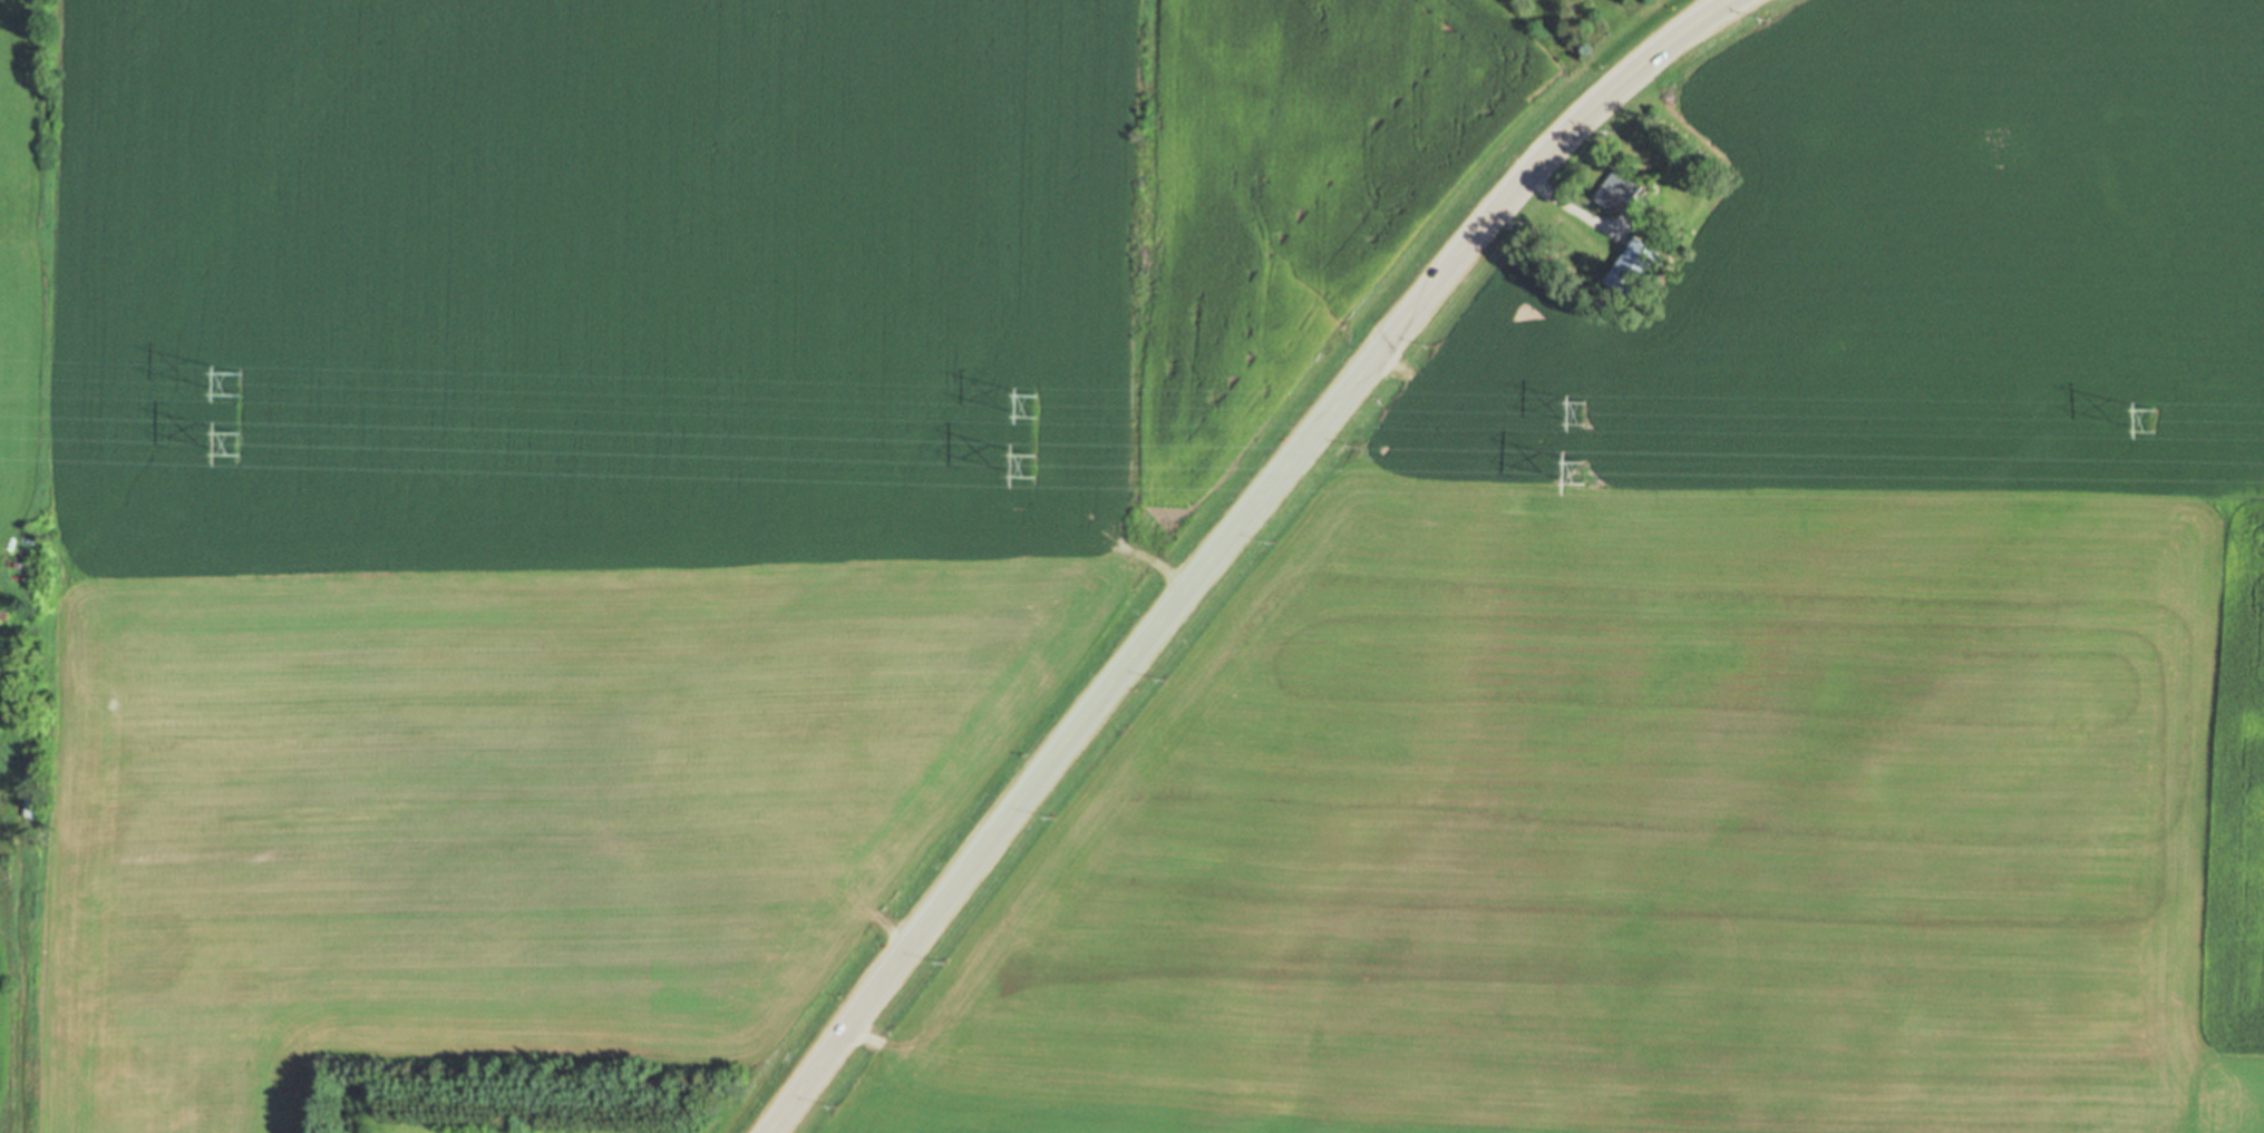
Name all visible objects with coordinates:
building: (1620, 184)
road: (1584, 212)
building: (1639, 263)
power tower: (242, 381)
power tower: (1037, 406)
power tower: (1584, 411)
power tower: (2153, 417)
power tower: (240, 438)
power tower: (1036, 463)
power tower: (1583, 469)
road: (1224, 550)

